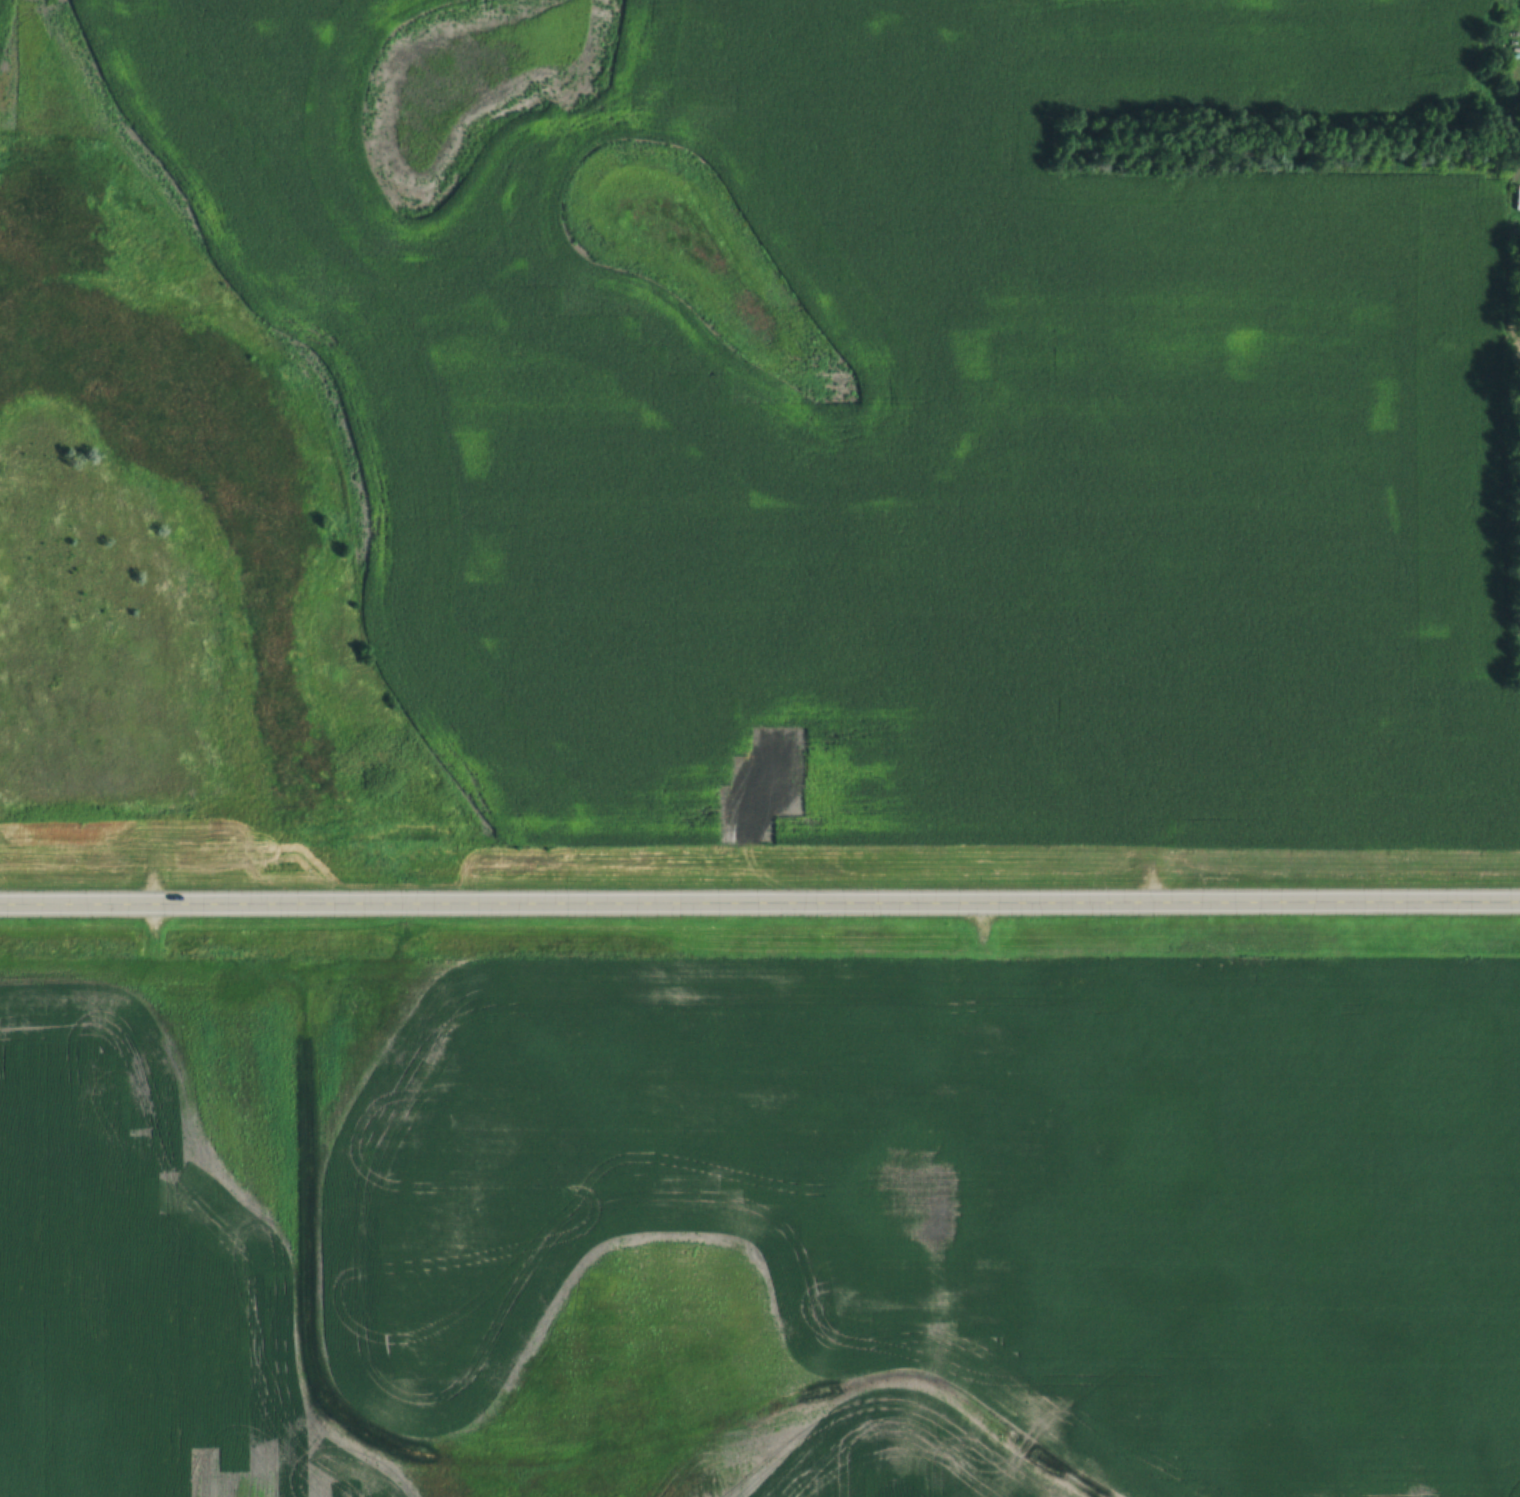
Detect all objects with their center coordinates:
road: (760, 900)

